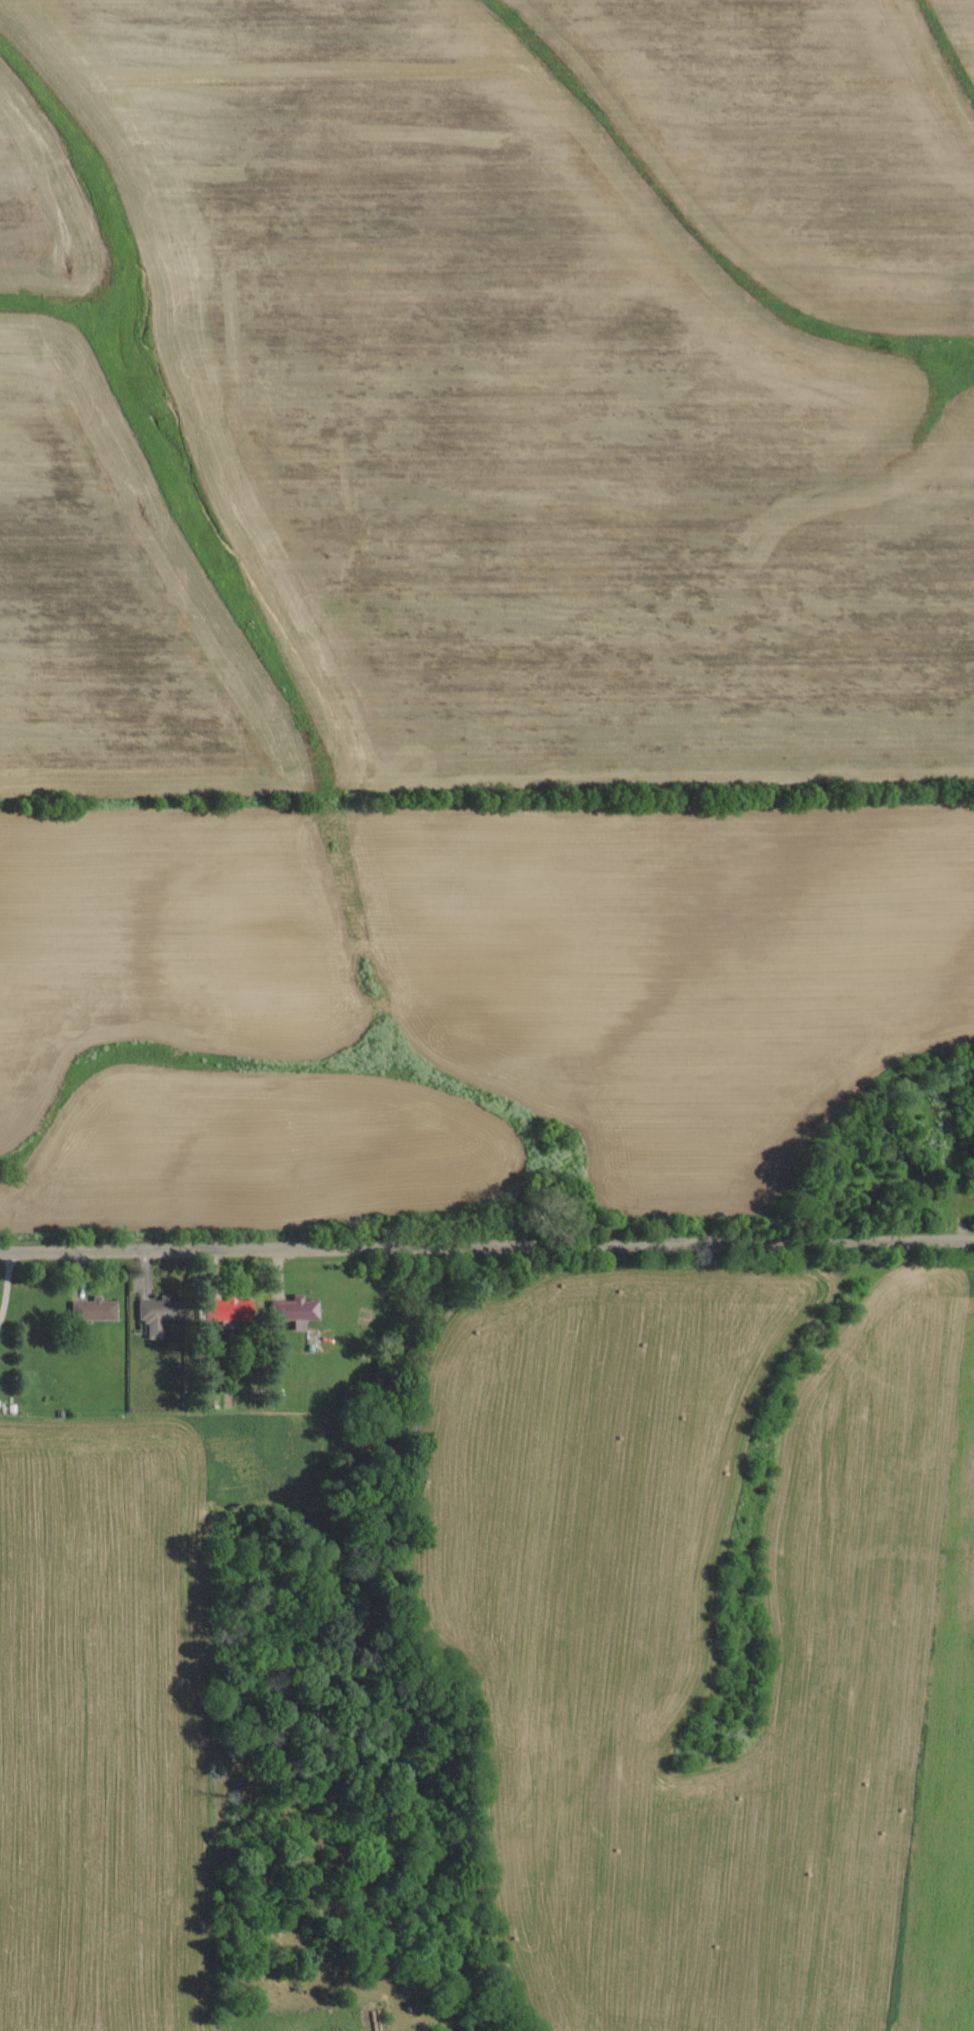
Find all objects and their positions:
road: (487, 1246)
building: (91, 1310)
building: (222, 1311)
building: (291, 1311)
building: (154, 1316)

